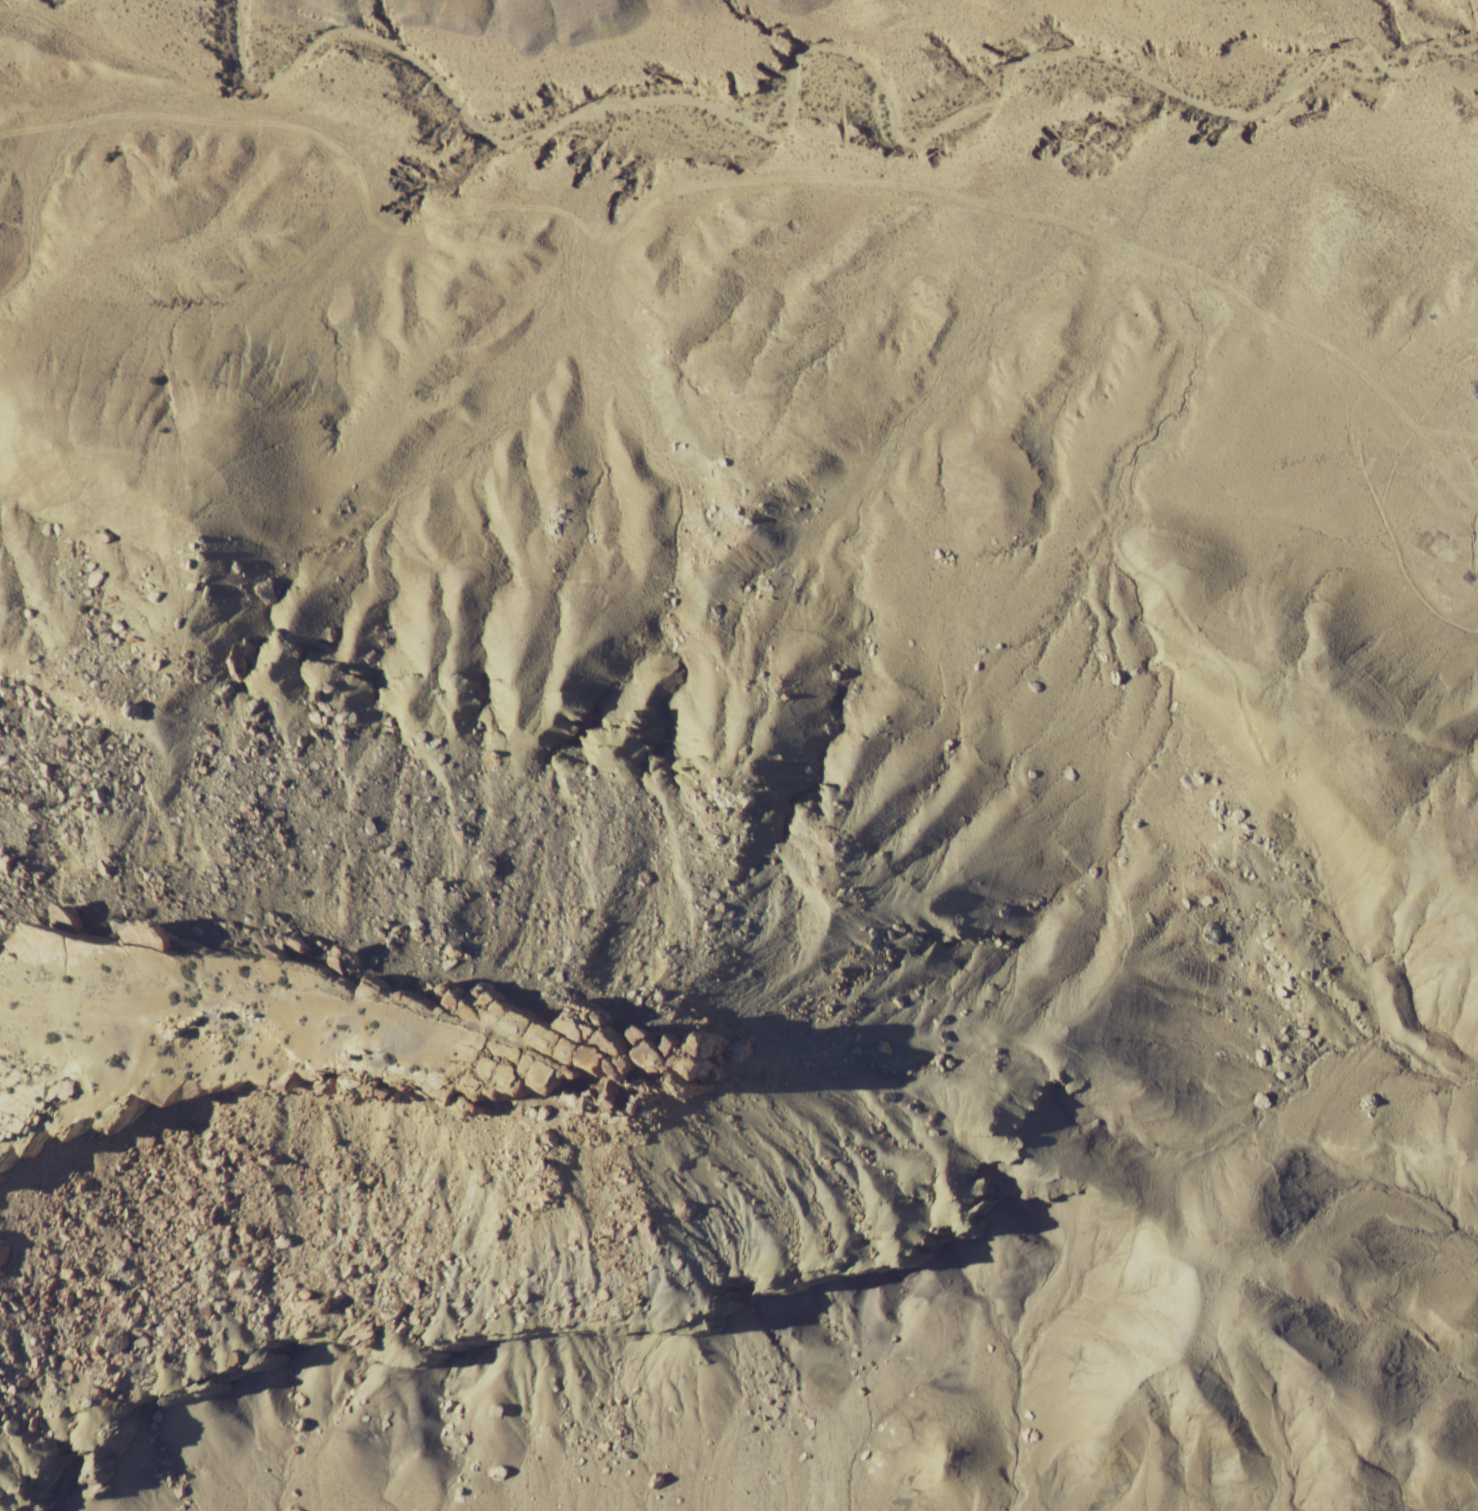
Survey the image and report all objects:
building: (1438, 543)

